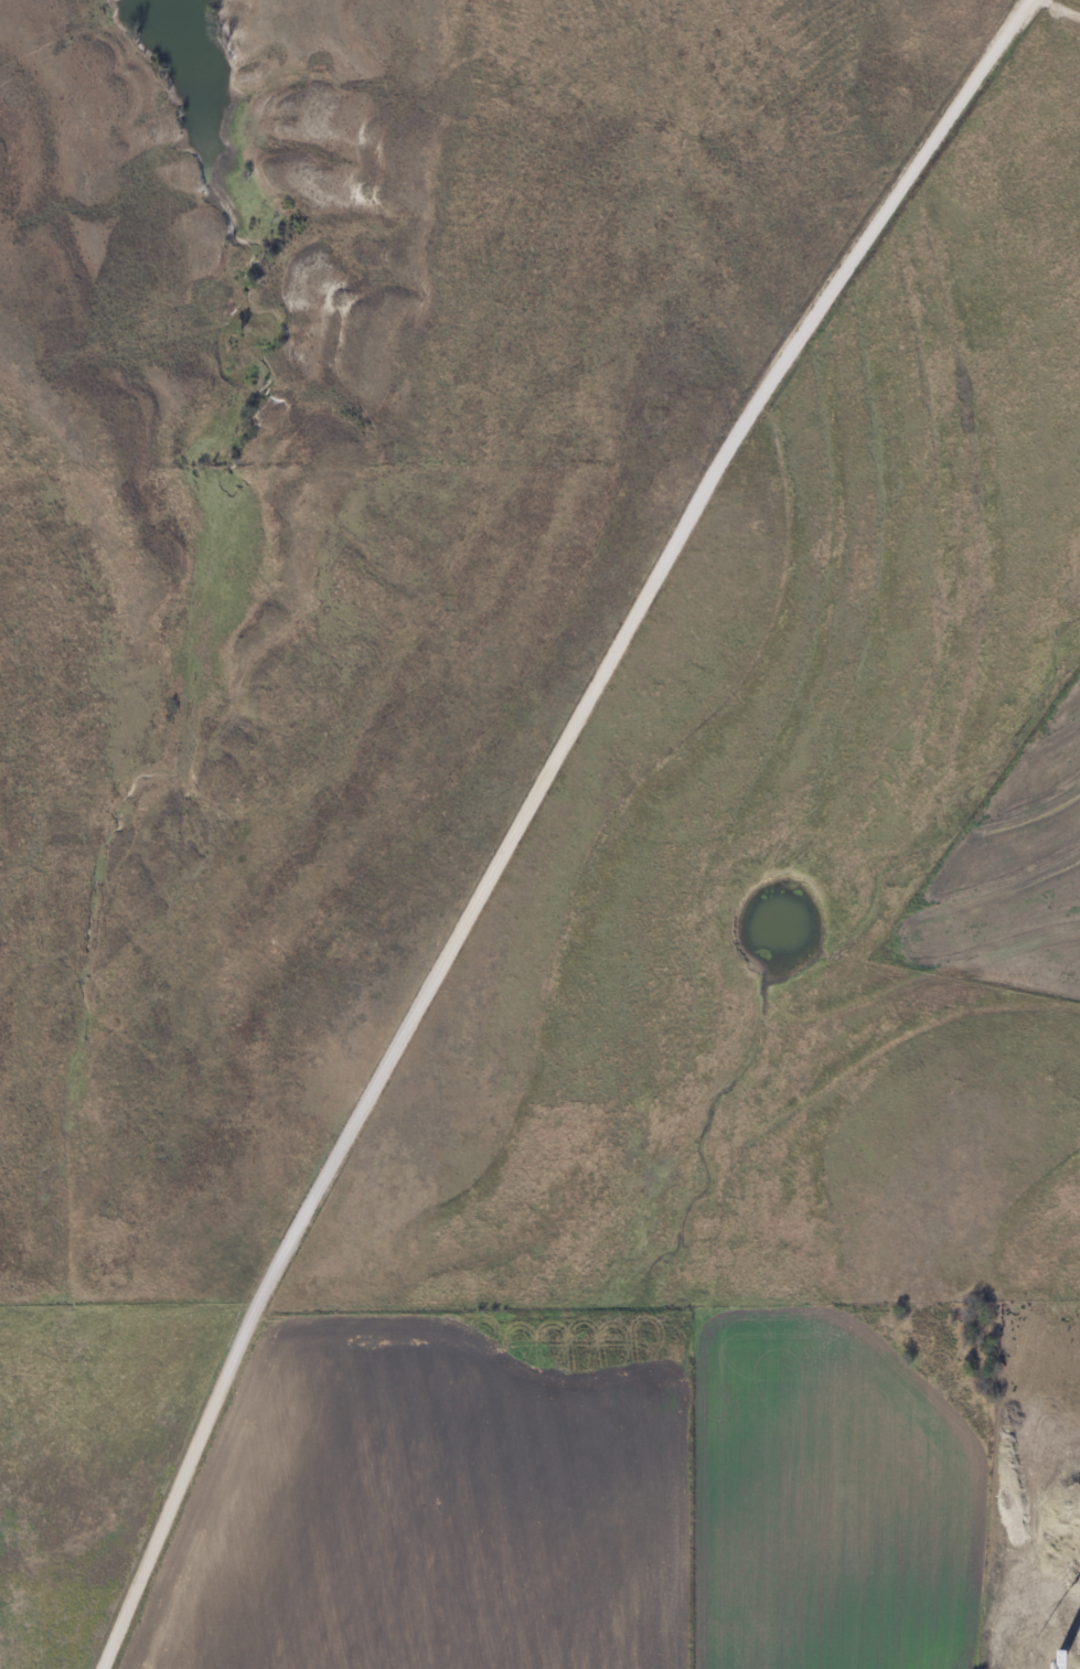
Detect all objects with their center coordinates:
road: (1061, 11)
road: (528, 811)
wind turbine: (1062, 1651)

